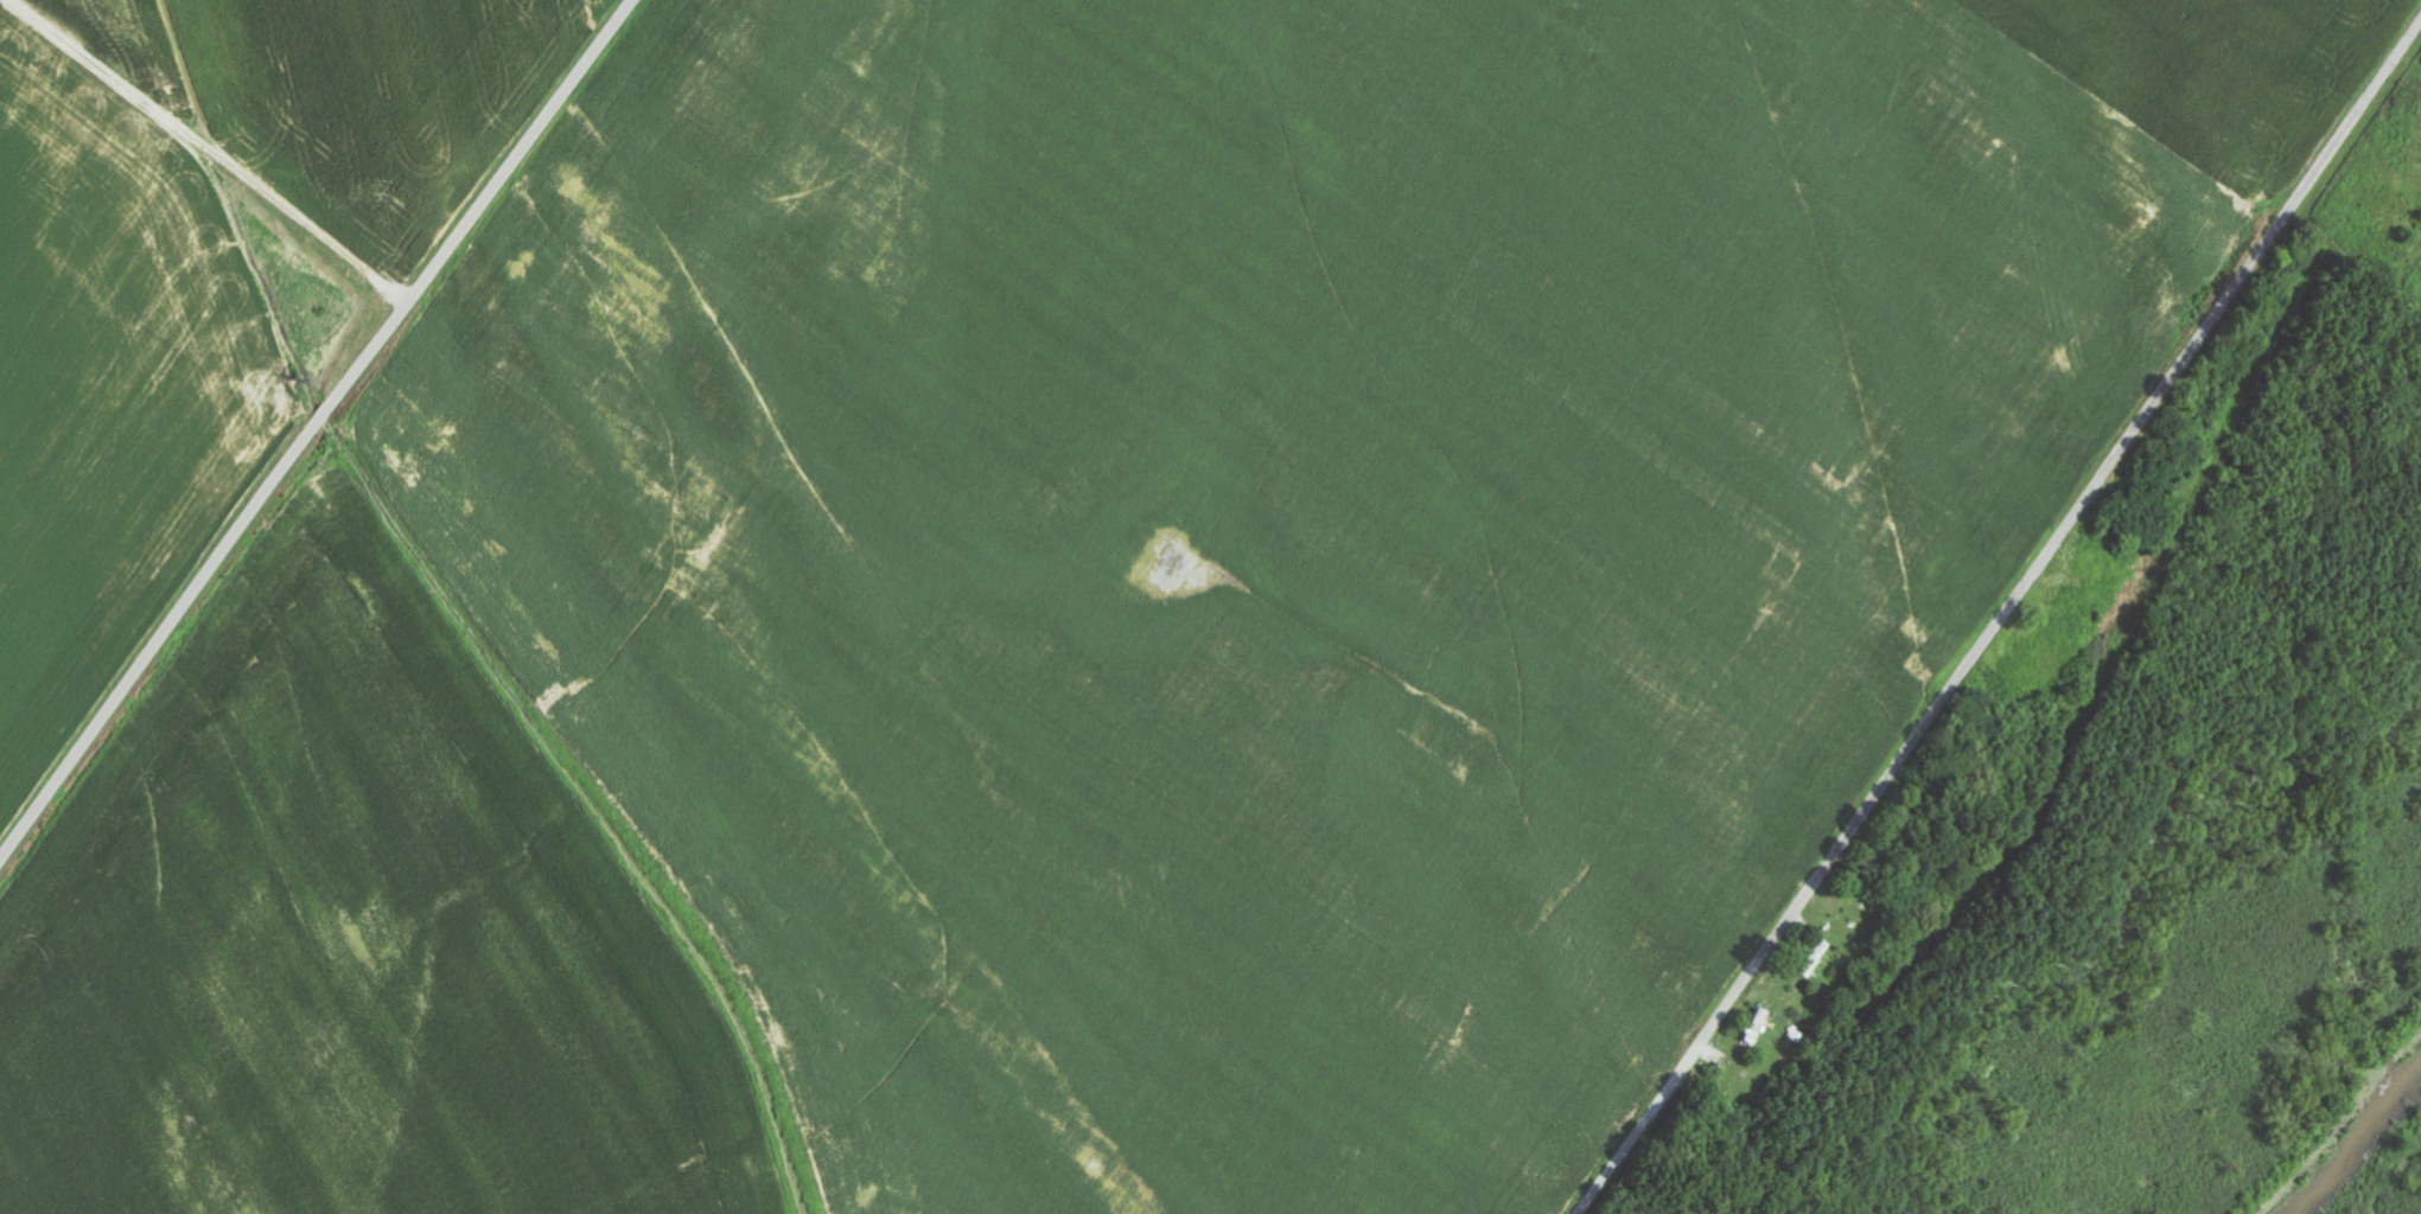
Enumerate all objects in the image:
road: (212, 145)
road: (312, 427)
road: (2000, 620)

